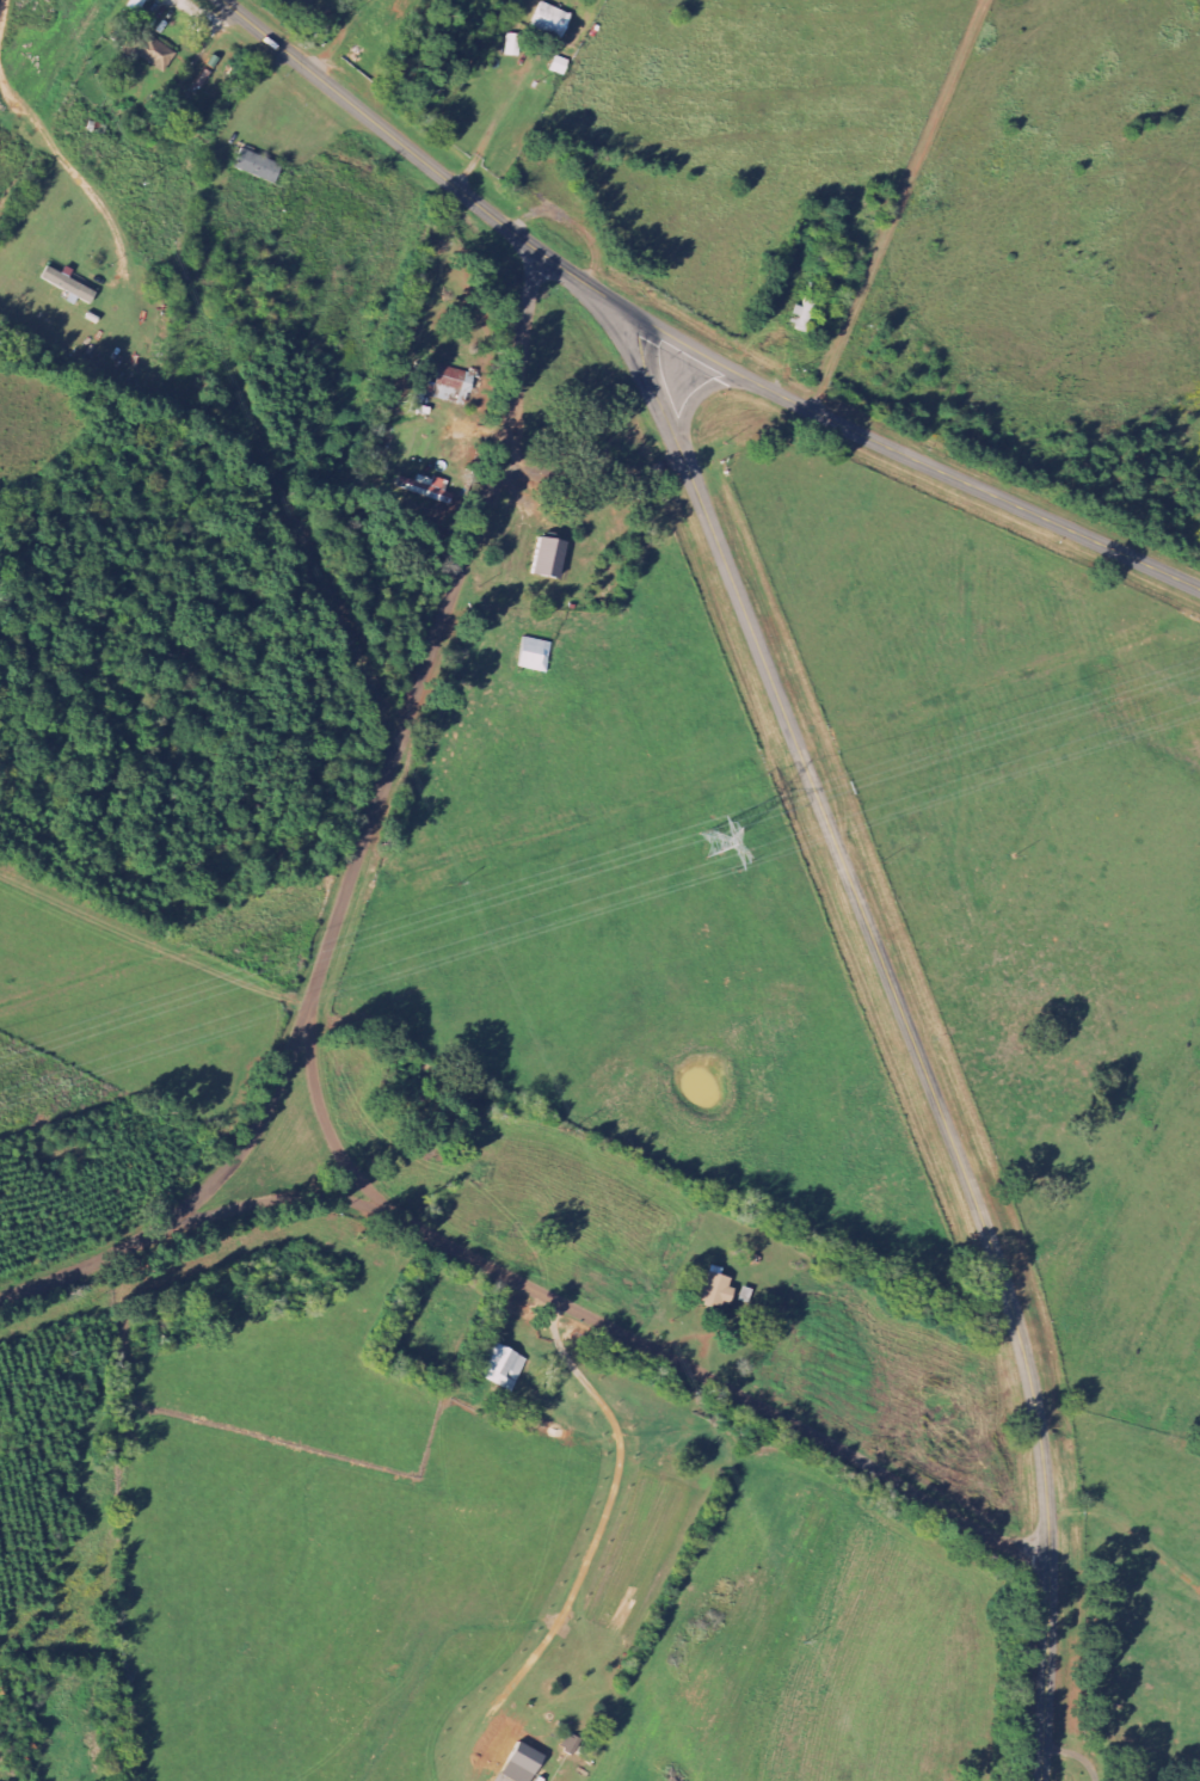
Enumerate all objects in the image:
building: (140, 5)
building: (555, 20)
building: (154, 51)
building: (564, 65)
building: (261, 166)
road: (802, 209)
building: (70, 285)
road: (682, 342)
building: (456, 386)
building: (429, 486)
building: (553, 559)
building: (539, 655)
power tower: (715, 845)
road: (375, 868)
road: (910, 1034)
building: (721, 1290)
building: (507, 1367)
road: (648, 1386)
building: (527, 1763)

